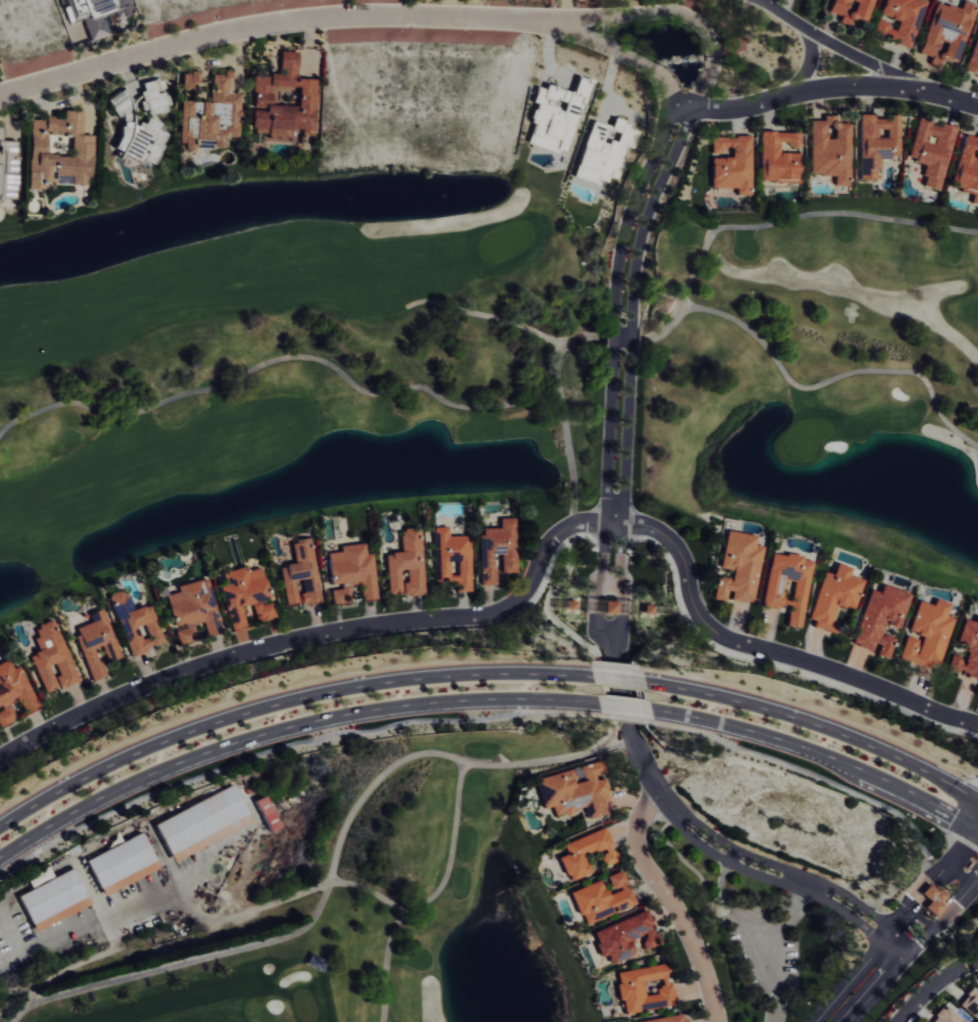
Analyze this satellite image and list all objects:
building: (849, 10)
road: (643, 13)
building: (100, 15)
building: (896, 20)
road: (270, 23)
building: (943, 33)
road: (600, 45)
road: (840, 49)
building: (972, 55)
road: (808, 63)
building: (192, 79)
road: (703, 84)
road: (668, 88)
road: (831, 88)
building: (188, 94)
building: (156, 98)
building: (285, 102)
building: (213, 116)
building: (555, 116)
building: (138, 139)
building: (874, 143)
building: (827, 150)
building: (61, 151)
building: (929, 151)
building: (777, 158)
building: (730, 165)
building: (8, 168)
building: (966, 169)
road: (631, 207)
road: (649, 211)
road: (612, 333)
road: (630, 333)
park: (454, 486)
road: (623, 501)
road: (603, 502)
building: (494, 549)
building: (449, 558)
building: (404, 564)
building: (737, 567)
building: (348, 572)
building: (298, 574)
road: (527, 585)
building: (787, 585)
building: (240, 592)
building: (834, 595)
building: (607, 606)
building: (190, 609)
building: (261, 611)
building: (879, 618)
building: (139, 629)
building: (926, 634)
building: (95, 642)
building: (967, 649)
building: (51, 658)
road: (615, 679)
building: (13, 691)
road: (281, 702)
road: (621, 709)
road: (816, 724)
road: (283, 730)
road: (629, 737)
road: (818, 753)
building: (572, 790)
building: (265, 812)
building: (199, 822)
building: (584, 853)
building: (120, 863)
road: (788, 871)
road: (778, 882)
building: (599, 898)
building: (52, 899)
building: (932, 899)
road: (671, 904)
road: (99, 914)
road: (903, 934)
building: (623, 936)
road: (932, 985)
building: (642, 989)
building: (970, 1002)
building: (945, 1016)
building: (665, 1019)

